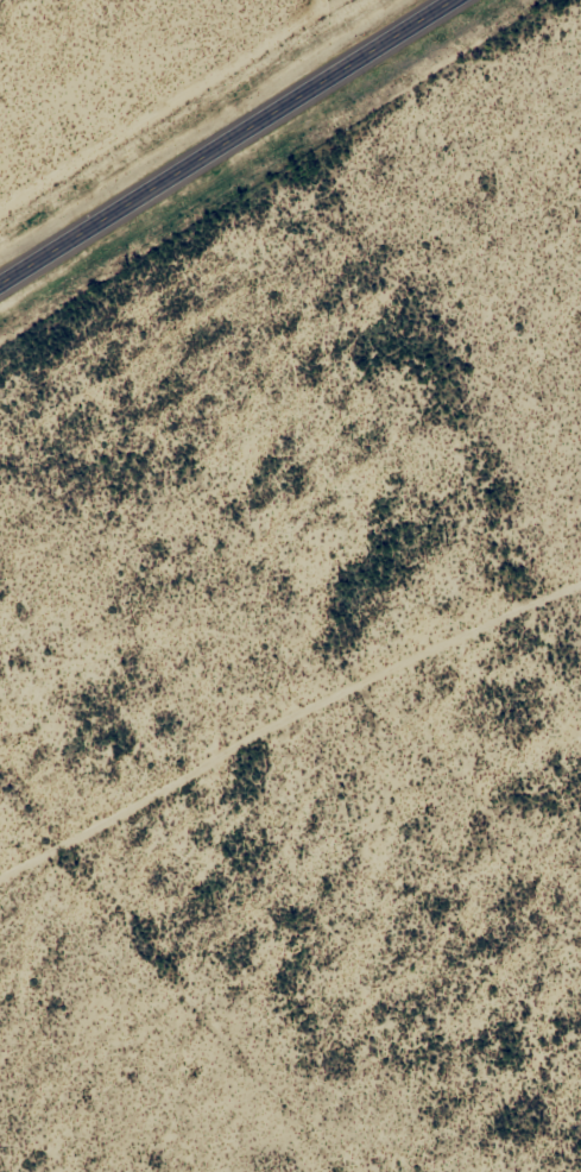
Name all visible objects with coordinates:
road: (220, 138)

